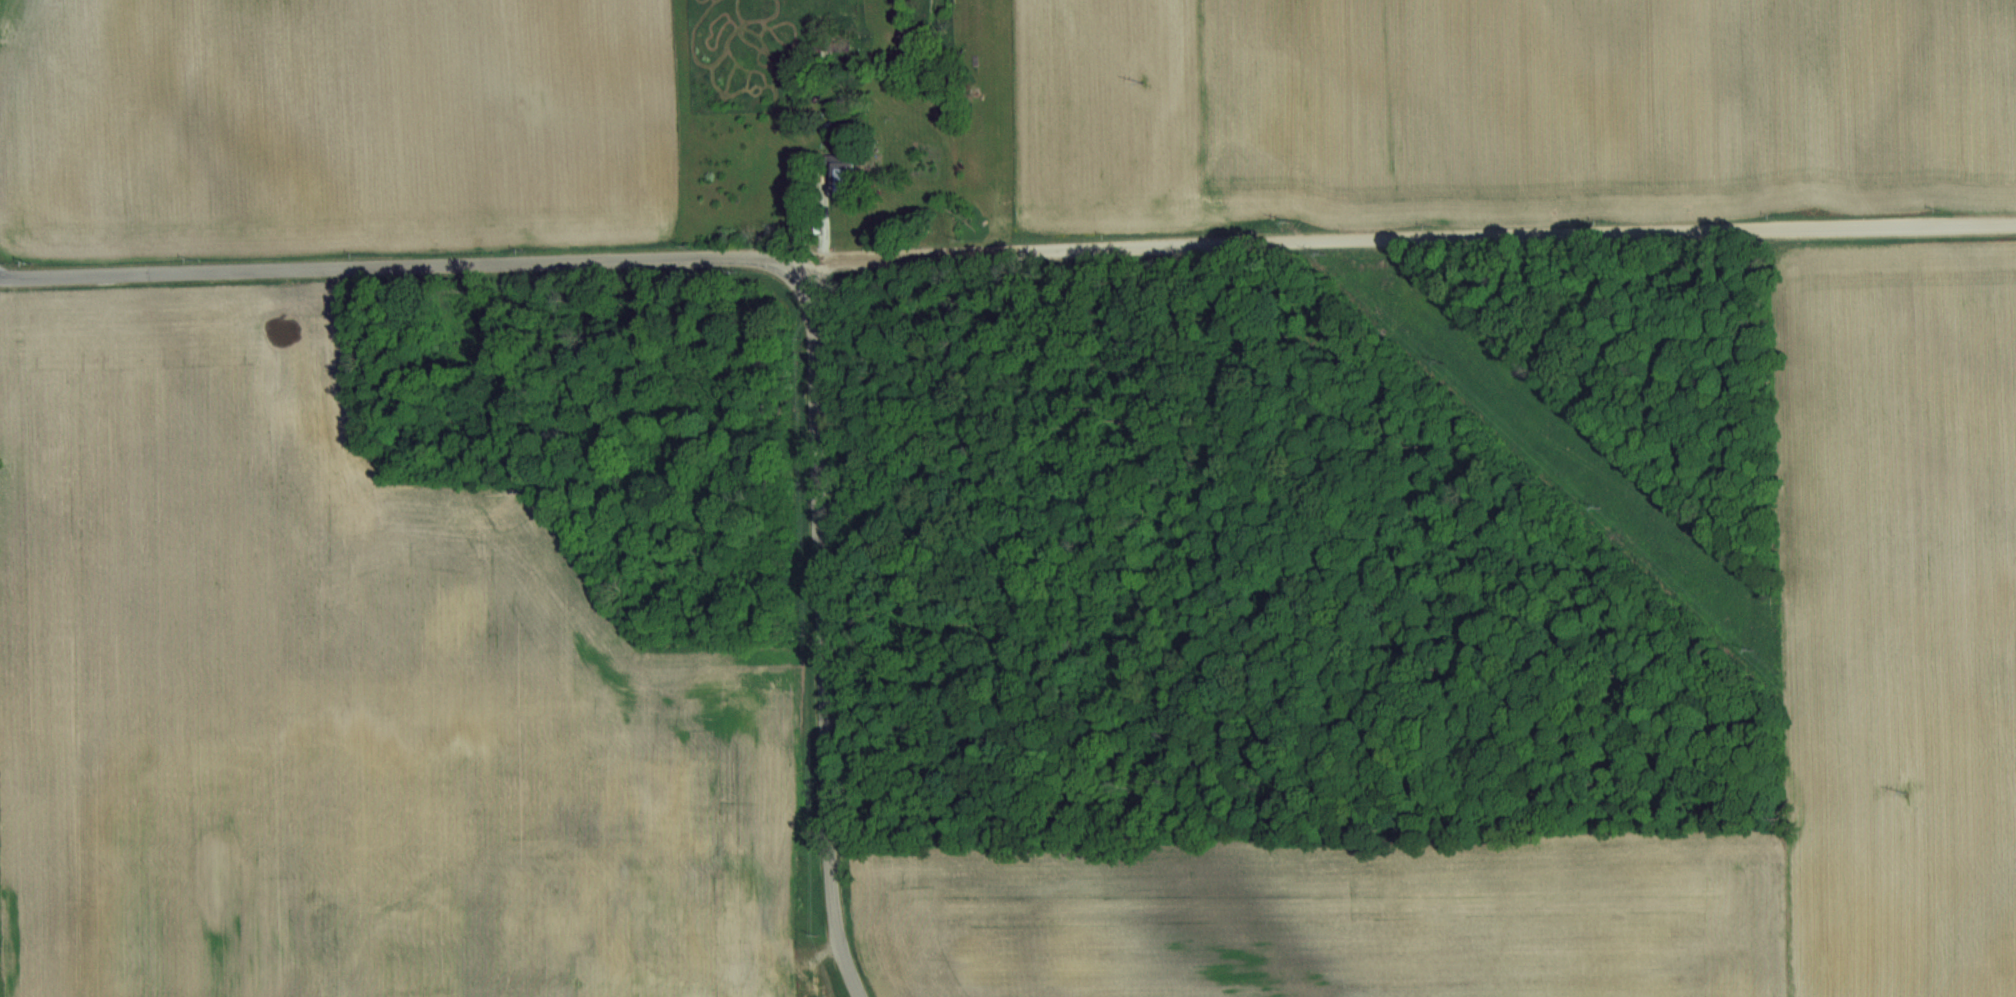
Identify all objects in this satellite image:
building: (850, 174)
road: (1008, 252)
building: (322, 422)
road: (821, 625)
building: (671, 789)
building: (591, 883)
building: (735, 917)
building: (677, 927)
building: (805, 988)

